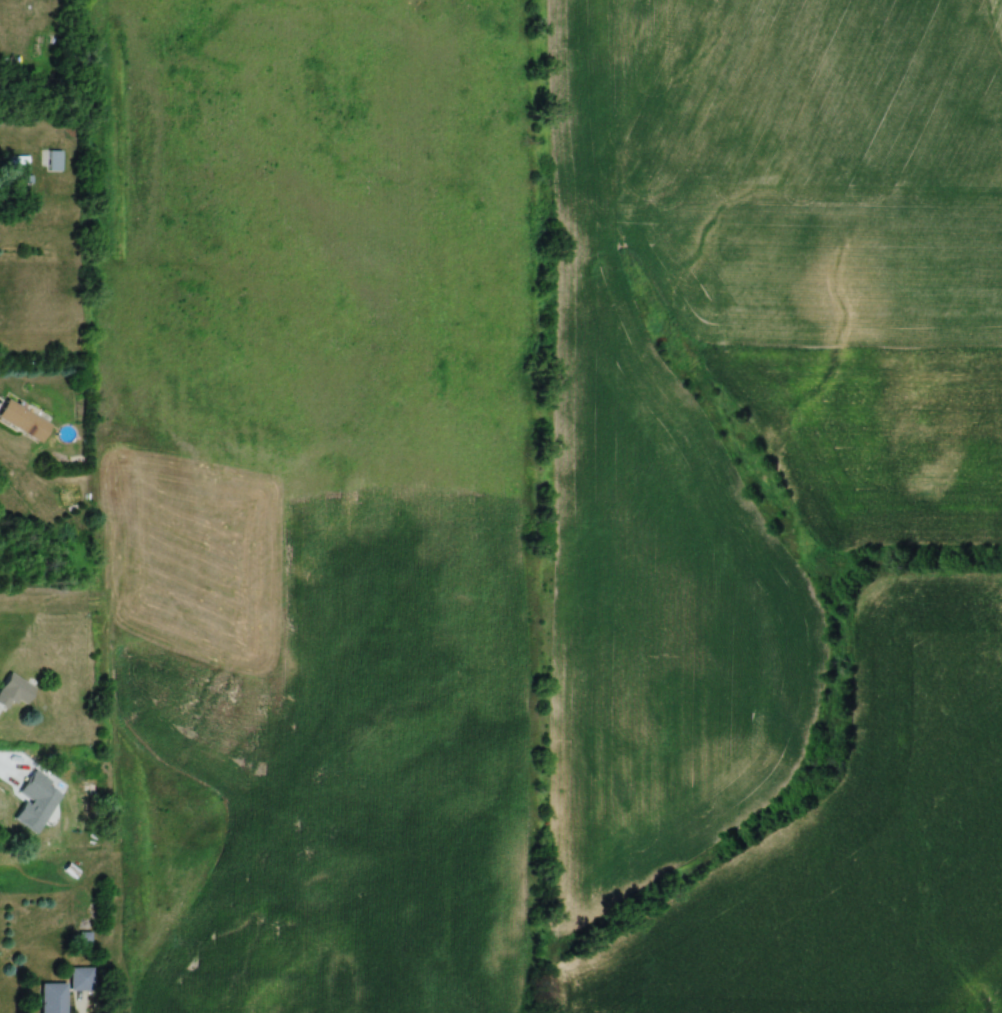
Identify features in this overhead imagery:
building: (54, 161)
building: (23, 421)
building: (69, 805)
road: (112, 885)
building: (81, 979)
building: (53, 998)

